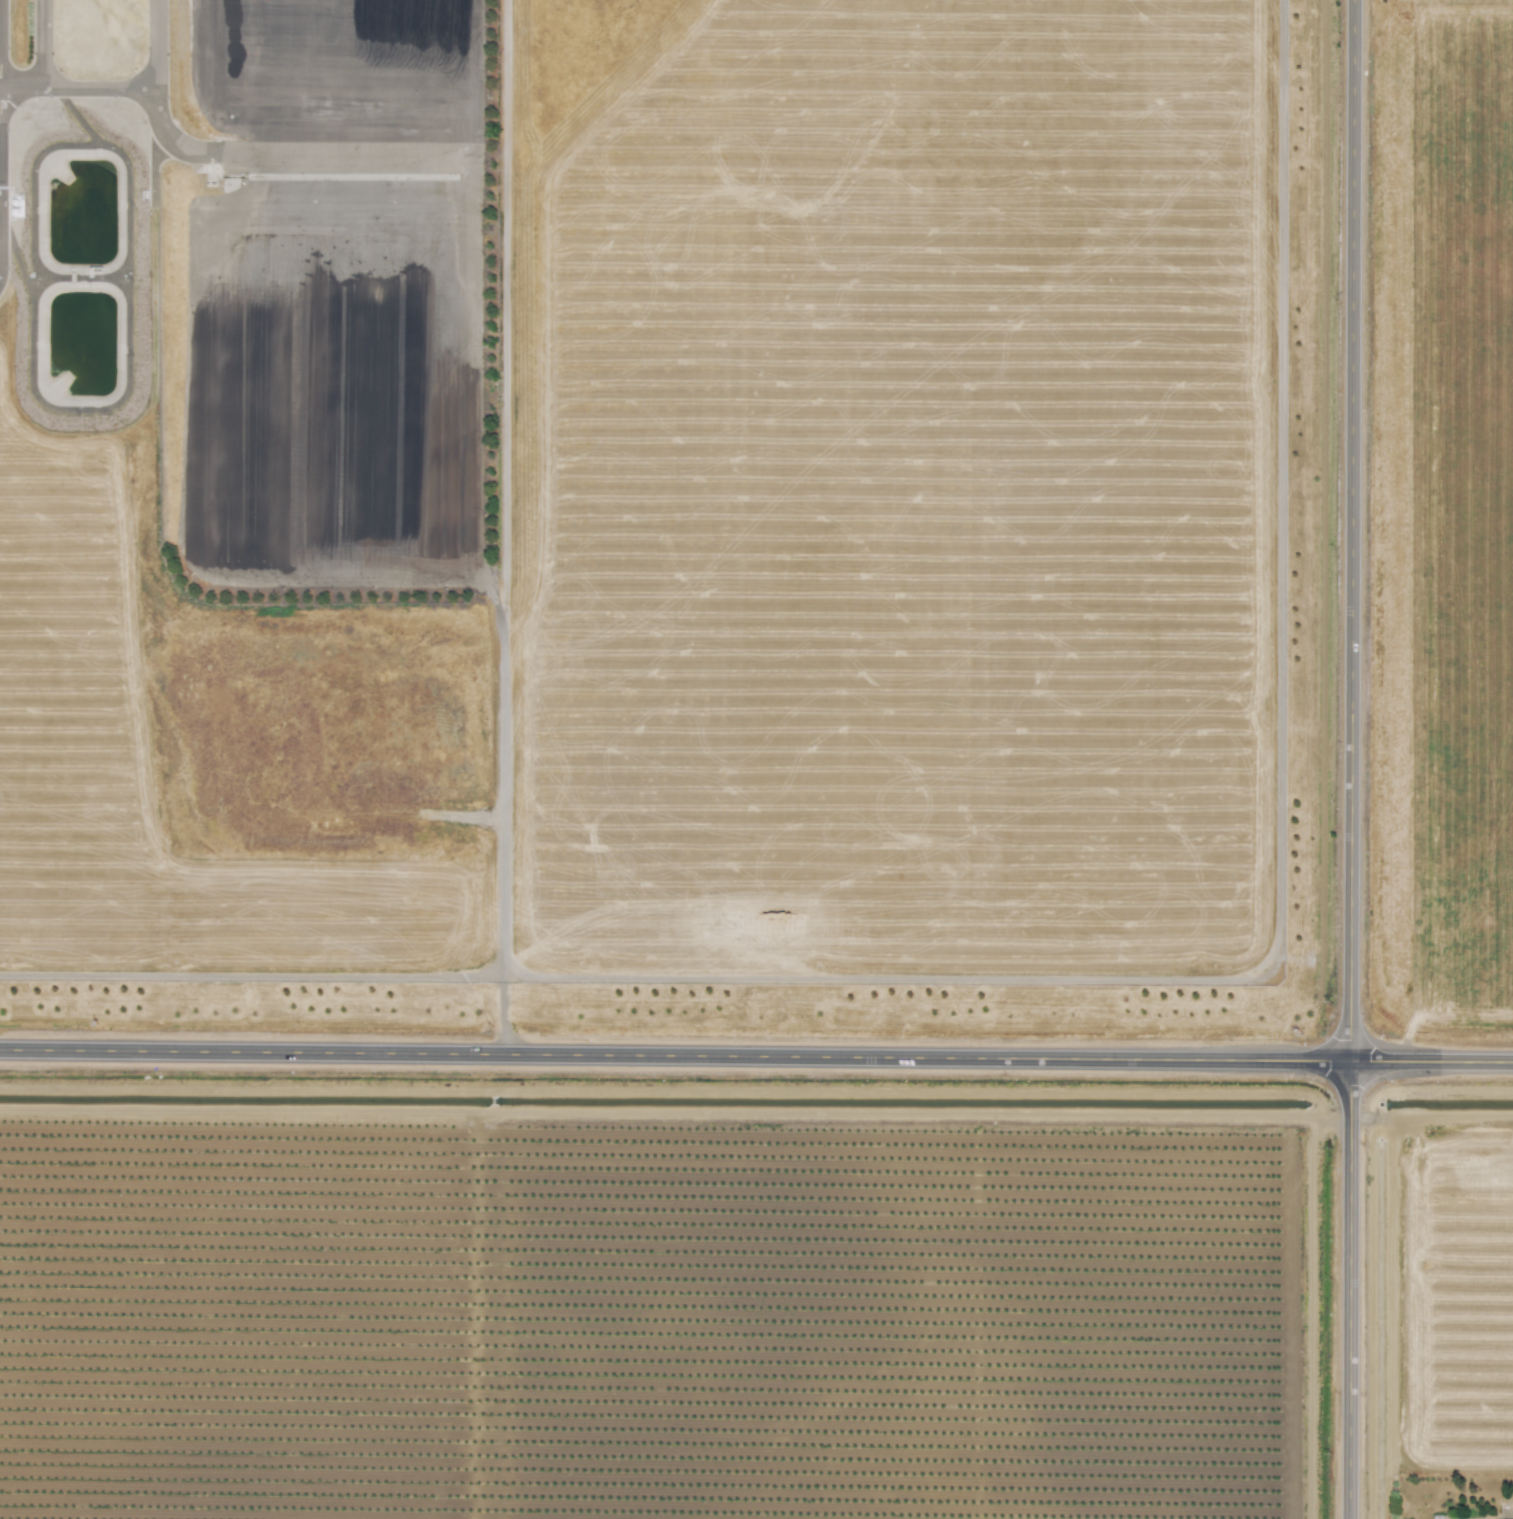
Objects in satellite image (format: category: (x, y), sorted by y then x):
road: (40, 49)
road: (126, 99)
road: (366, 157)
road: (1348, 759)
road: (756, 1052)

